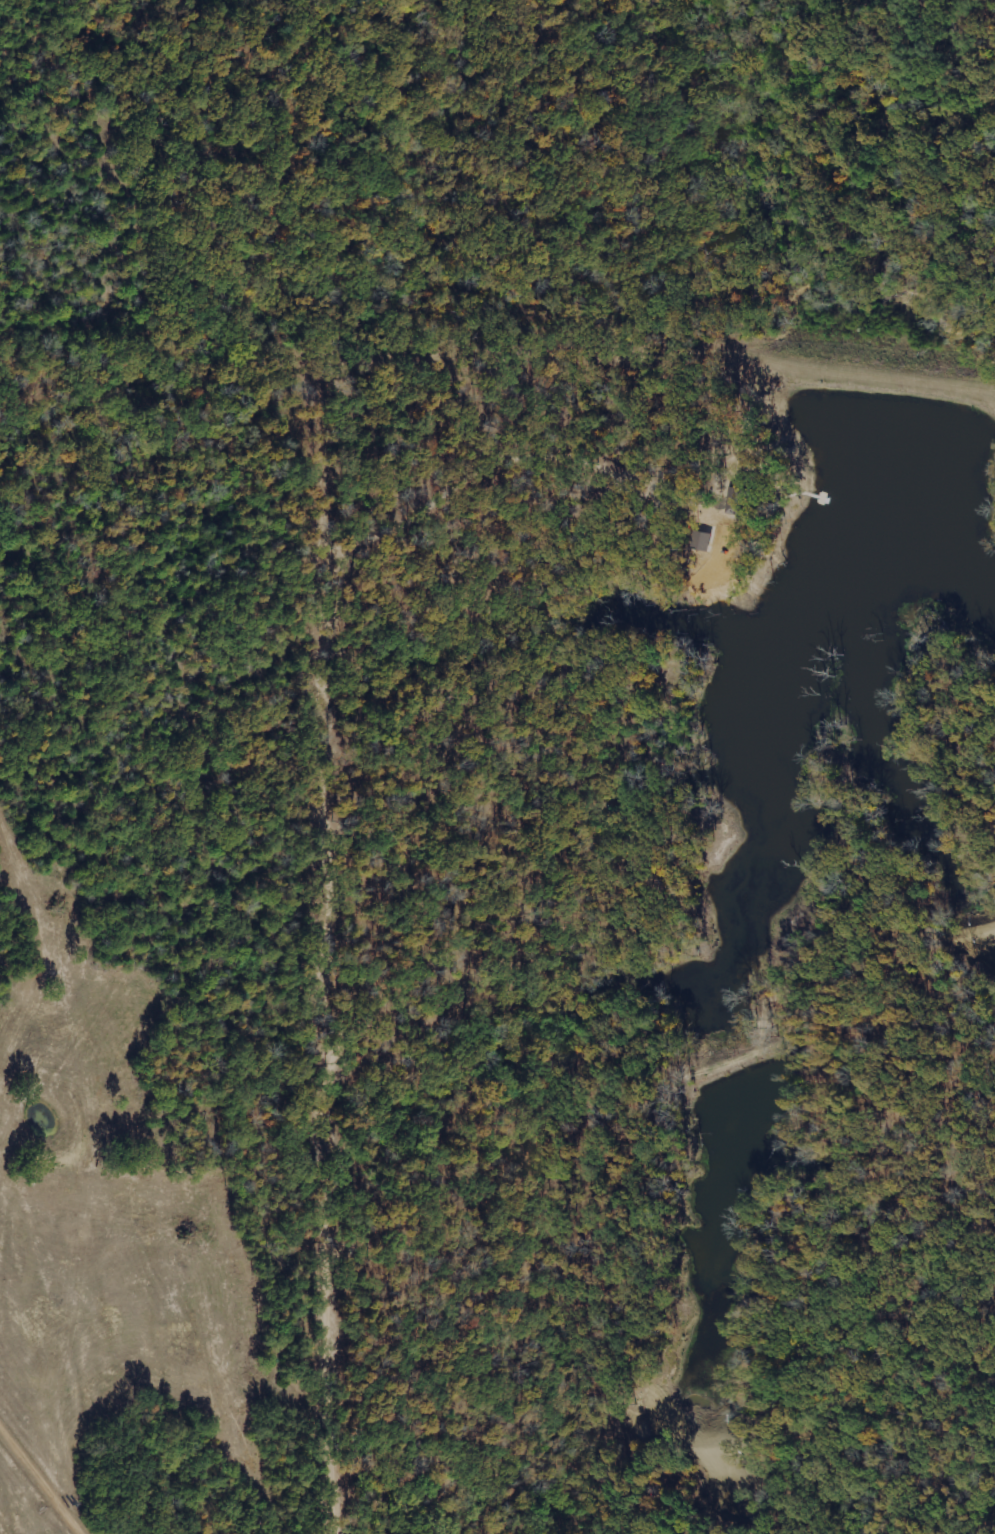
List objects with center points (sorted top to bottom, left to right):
building: (739, 499)

